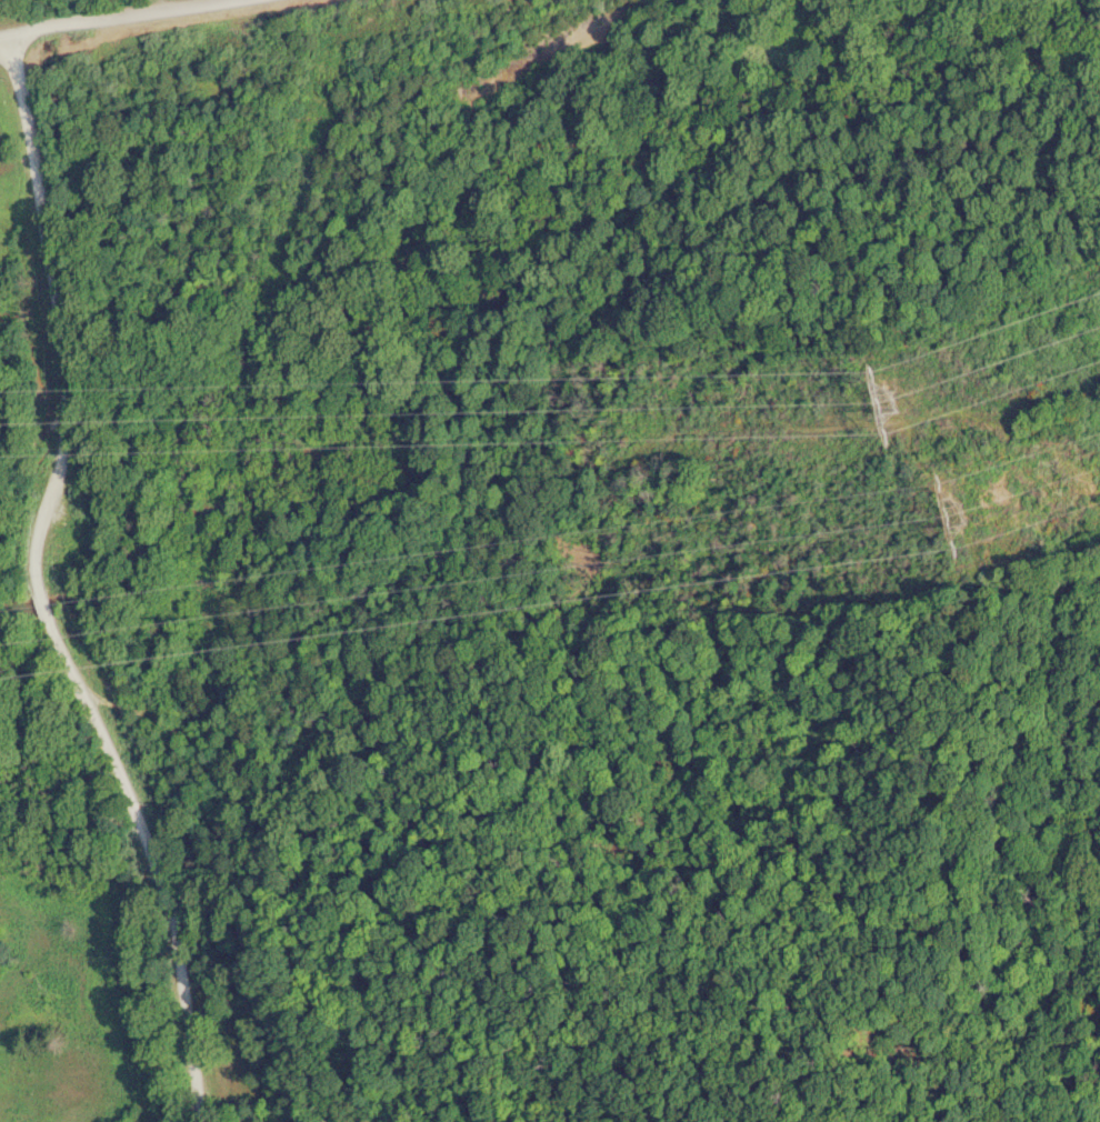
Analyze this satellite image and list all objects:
road: (108, 13)
road: (4, 33)
power tower: (912, 408)
power tower: (953, 520)
road: (104, 573)

